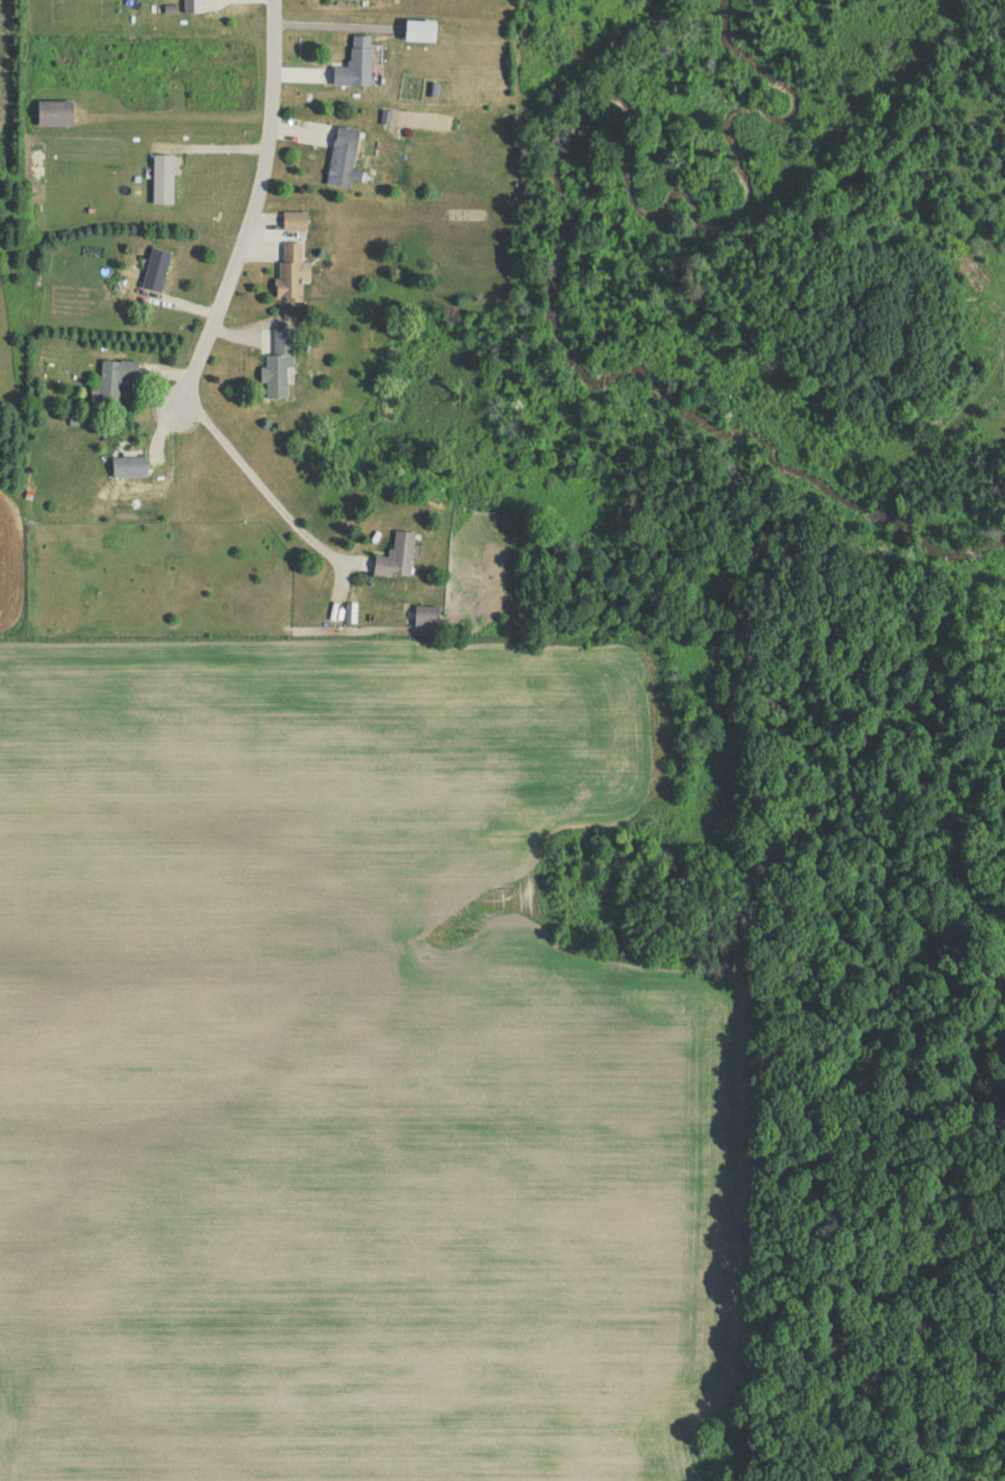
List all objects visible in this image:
building: (343, 1)
building: (189, 8)
building: (353, 68)
building: (52, 117)
road: (227, 150)
building: (340, 162)
building: (160, 183)
road: (253, 210)
building: (291, 225)
building: (153, 275)
building: (288, 276)
building: (274, 369)
building: (112, 384)
building: (125, 471)
road: (260, 486)
building: (394, 562)
building: (349, 618)
building: (423, 621)
crop: (343, 1077)

